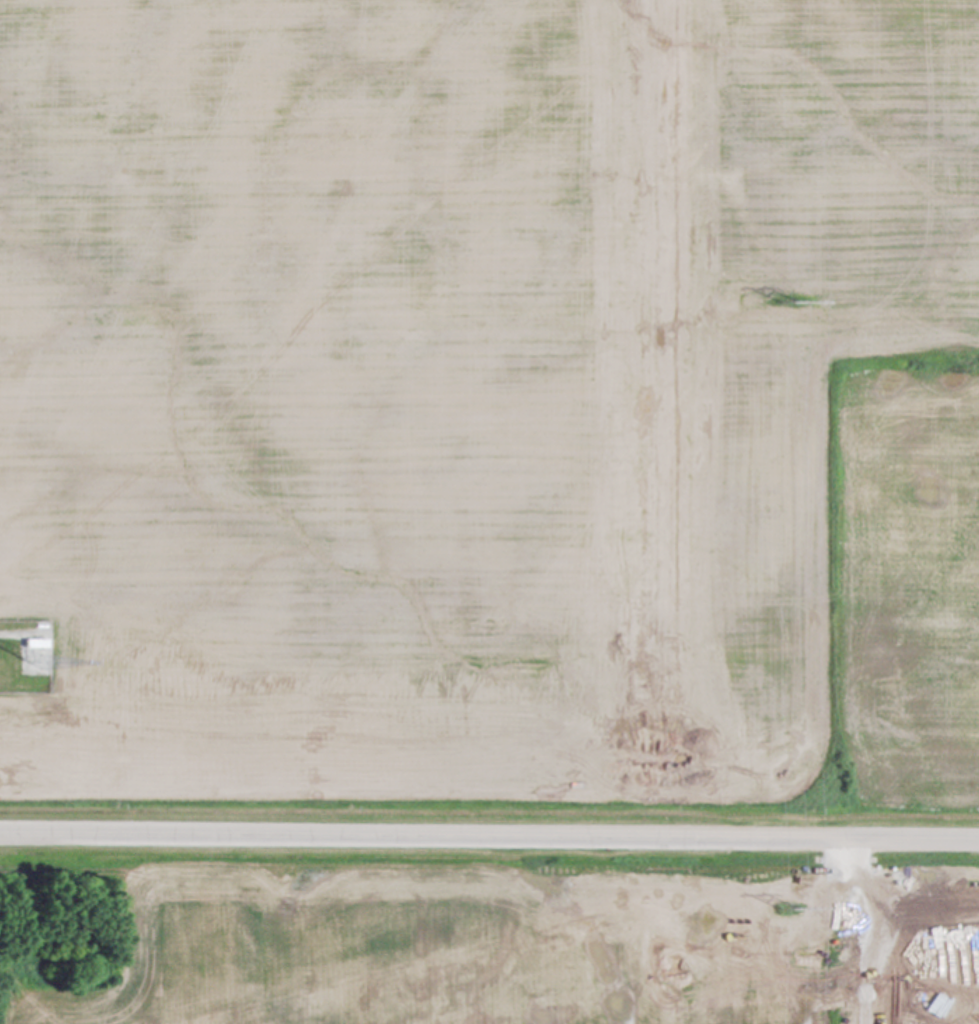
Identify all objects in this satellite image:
power tower: (796, 299)
road: (5, 635)
building: (31, 645)
road: (489, 833)
power tower: (795, 906)

